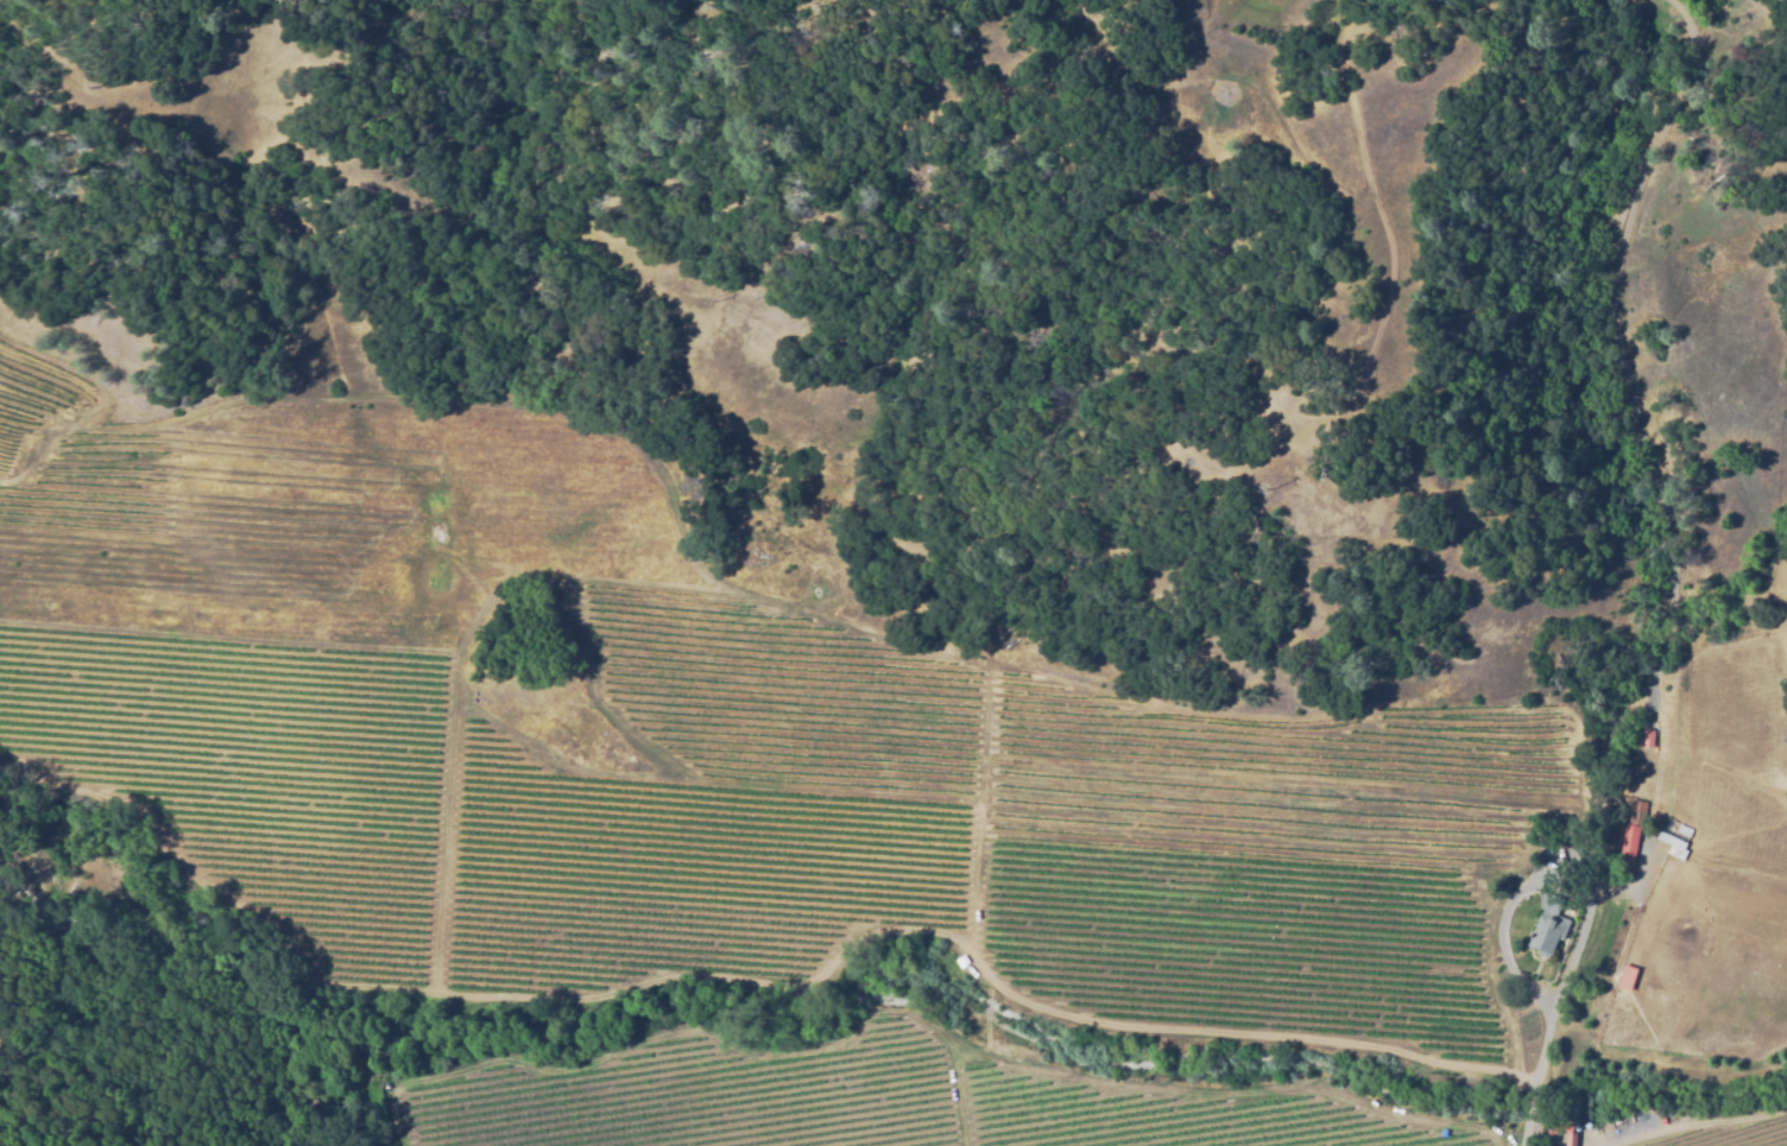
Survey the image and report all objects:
building: (1647, 737)
building: (1684, 830)
building: (1672, 846)
building: (1629, 847)
road: (62, 906)
building: (1548, 926)
building: (1628, 979)
road: (251, 1021)
building: (1553, 1128)
building: (1570, 1128)
building: (1571, 1139)

